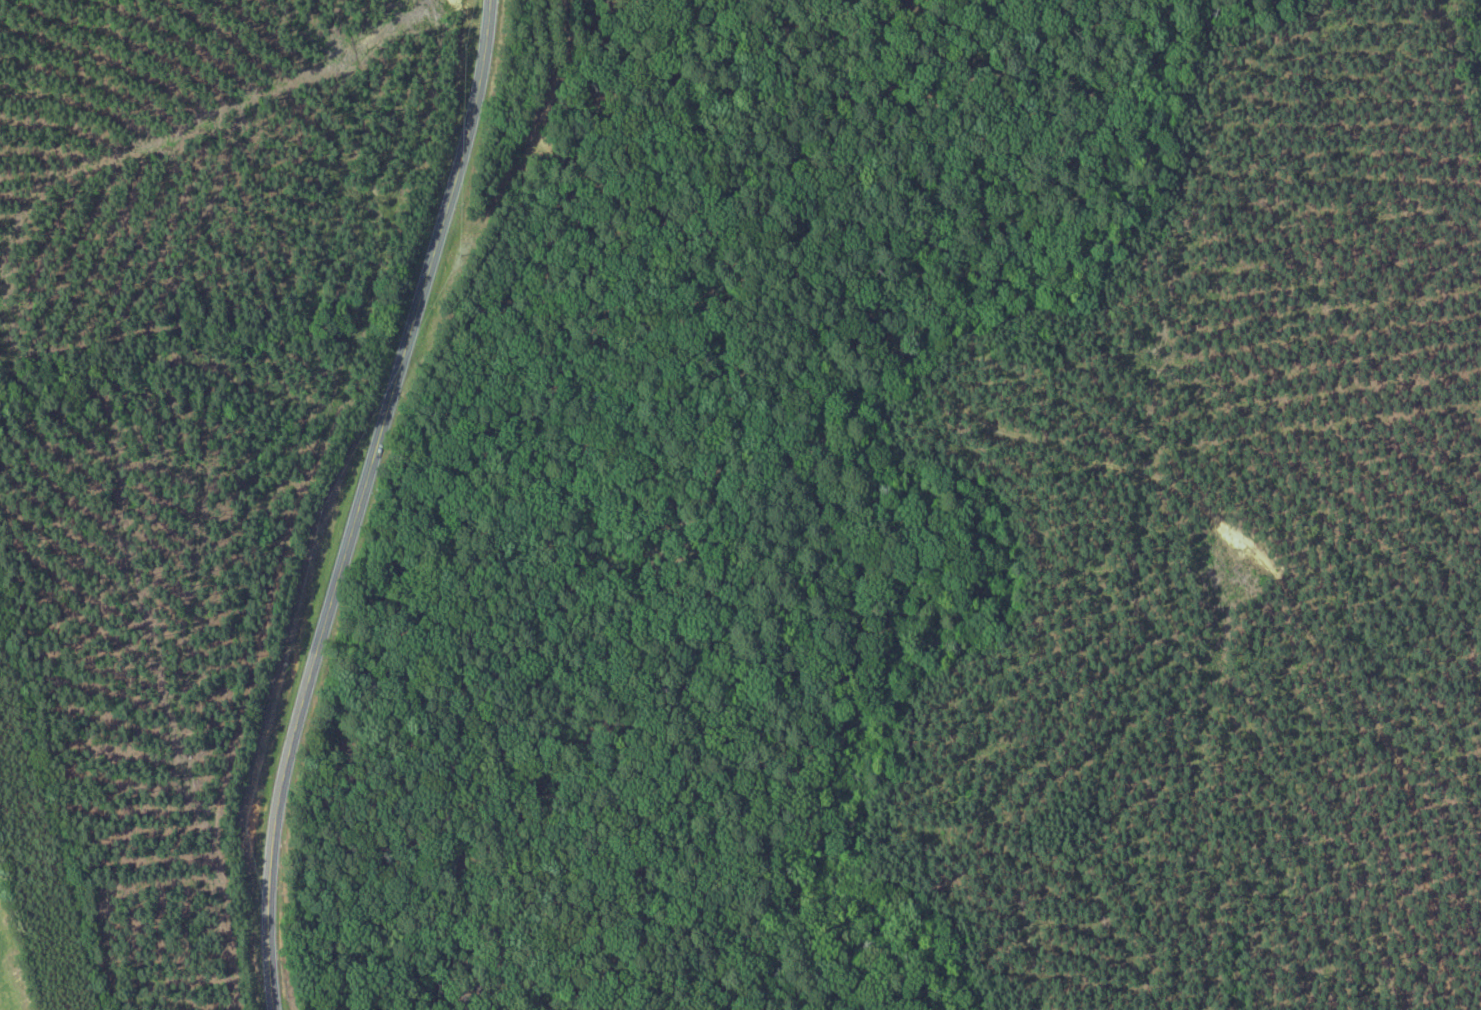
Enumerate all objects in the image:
road: (360, 502)

